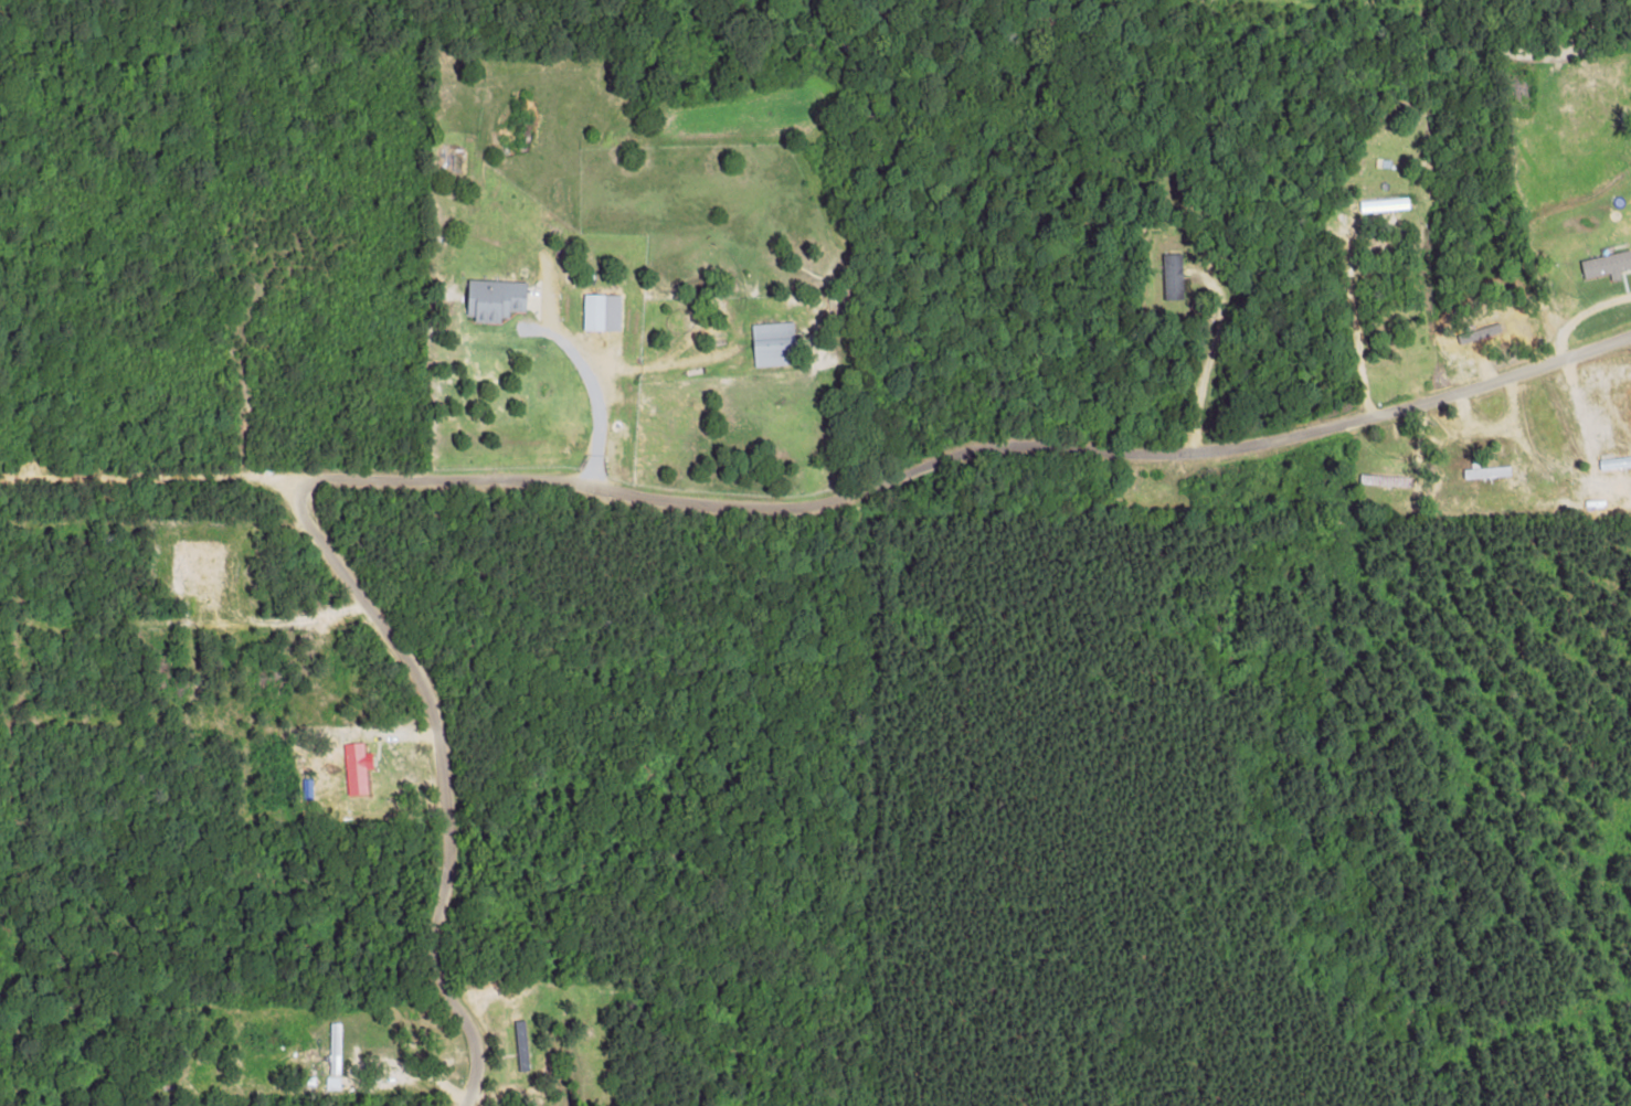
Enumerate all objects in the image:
building: (1607, 265)
building: (1172, 276)
building: (493, 298)
building: (592, 311)
building: (772, 343)
road: (711, 436)
building: (1476, 472)
road: (203, 508)
building: (356, 768)
building: (520, 1045)
building: (333, 1049)

